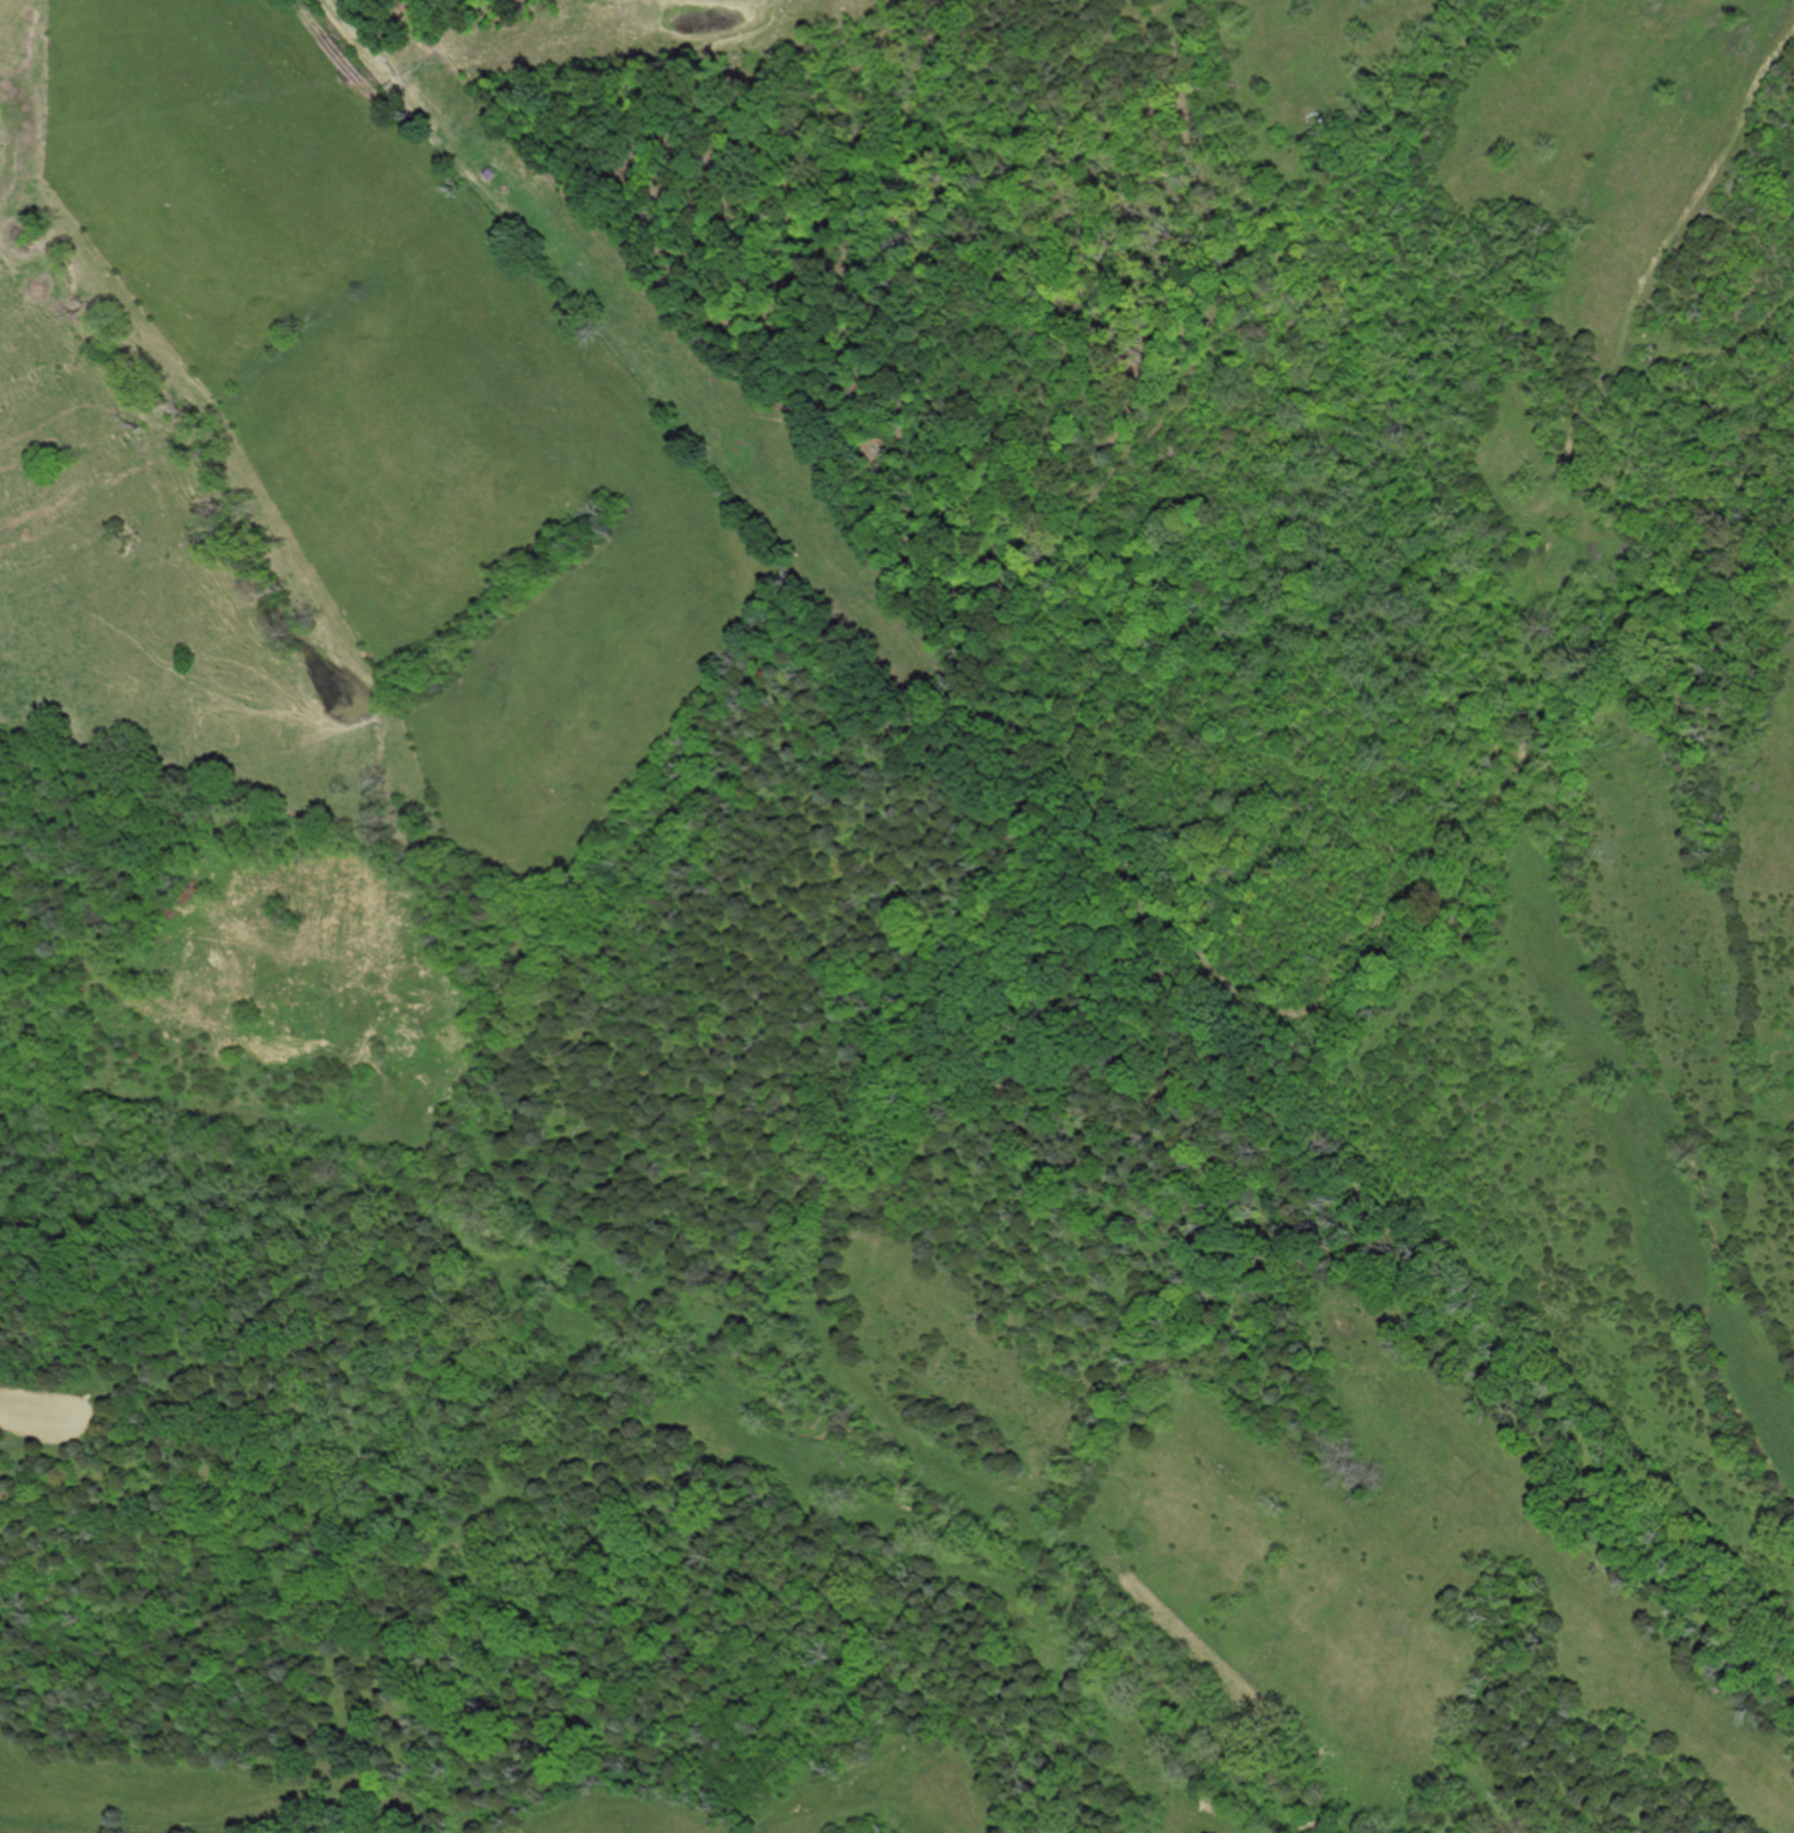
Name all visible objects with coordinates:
road: (273, 1811)

